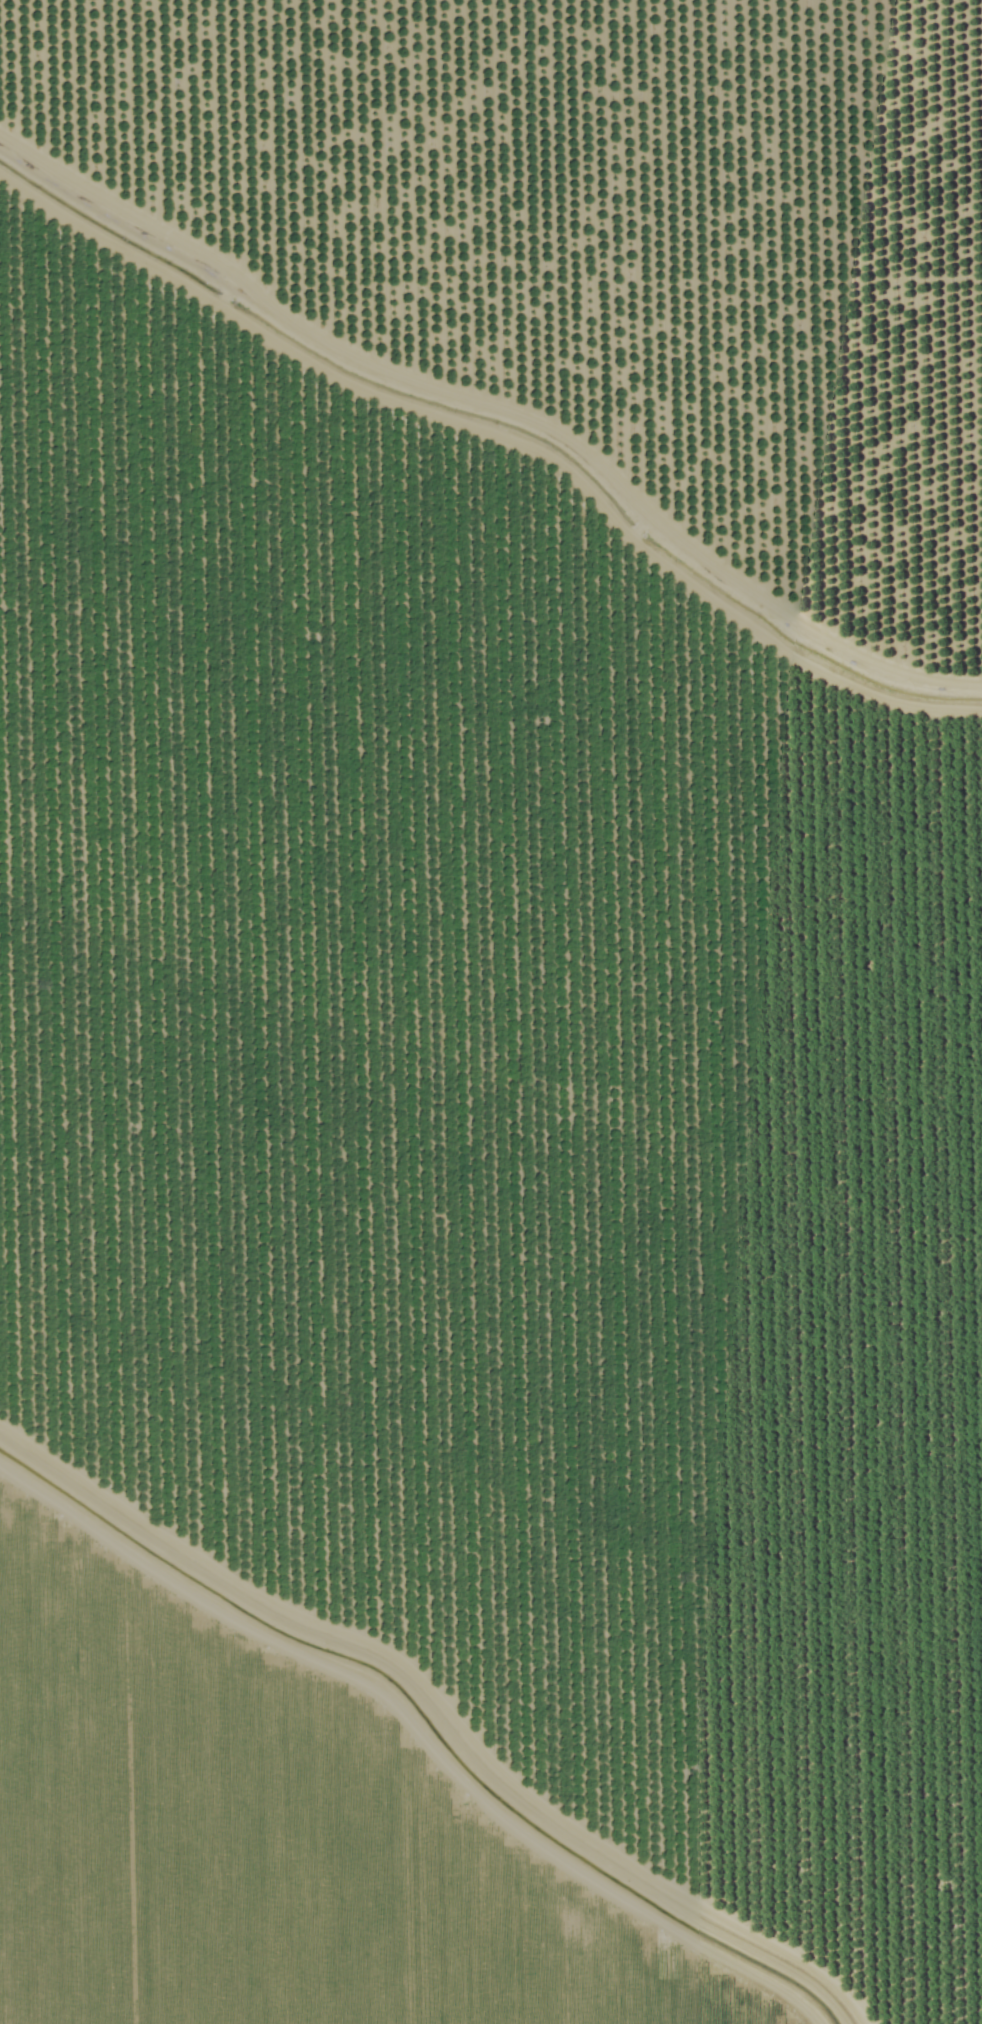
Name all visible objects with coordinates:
crop: (602, 229)
crop: (498, 1114)
crop: (259, 1829)

